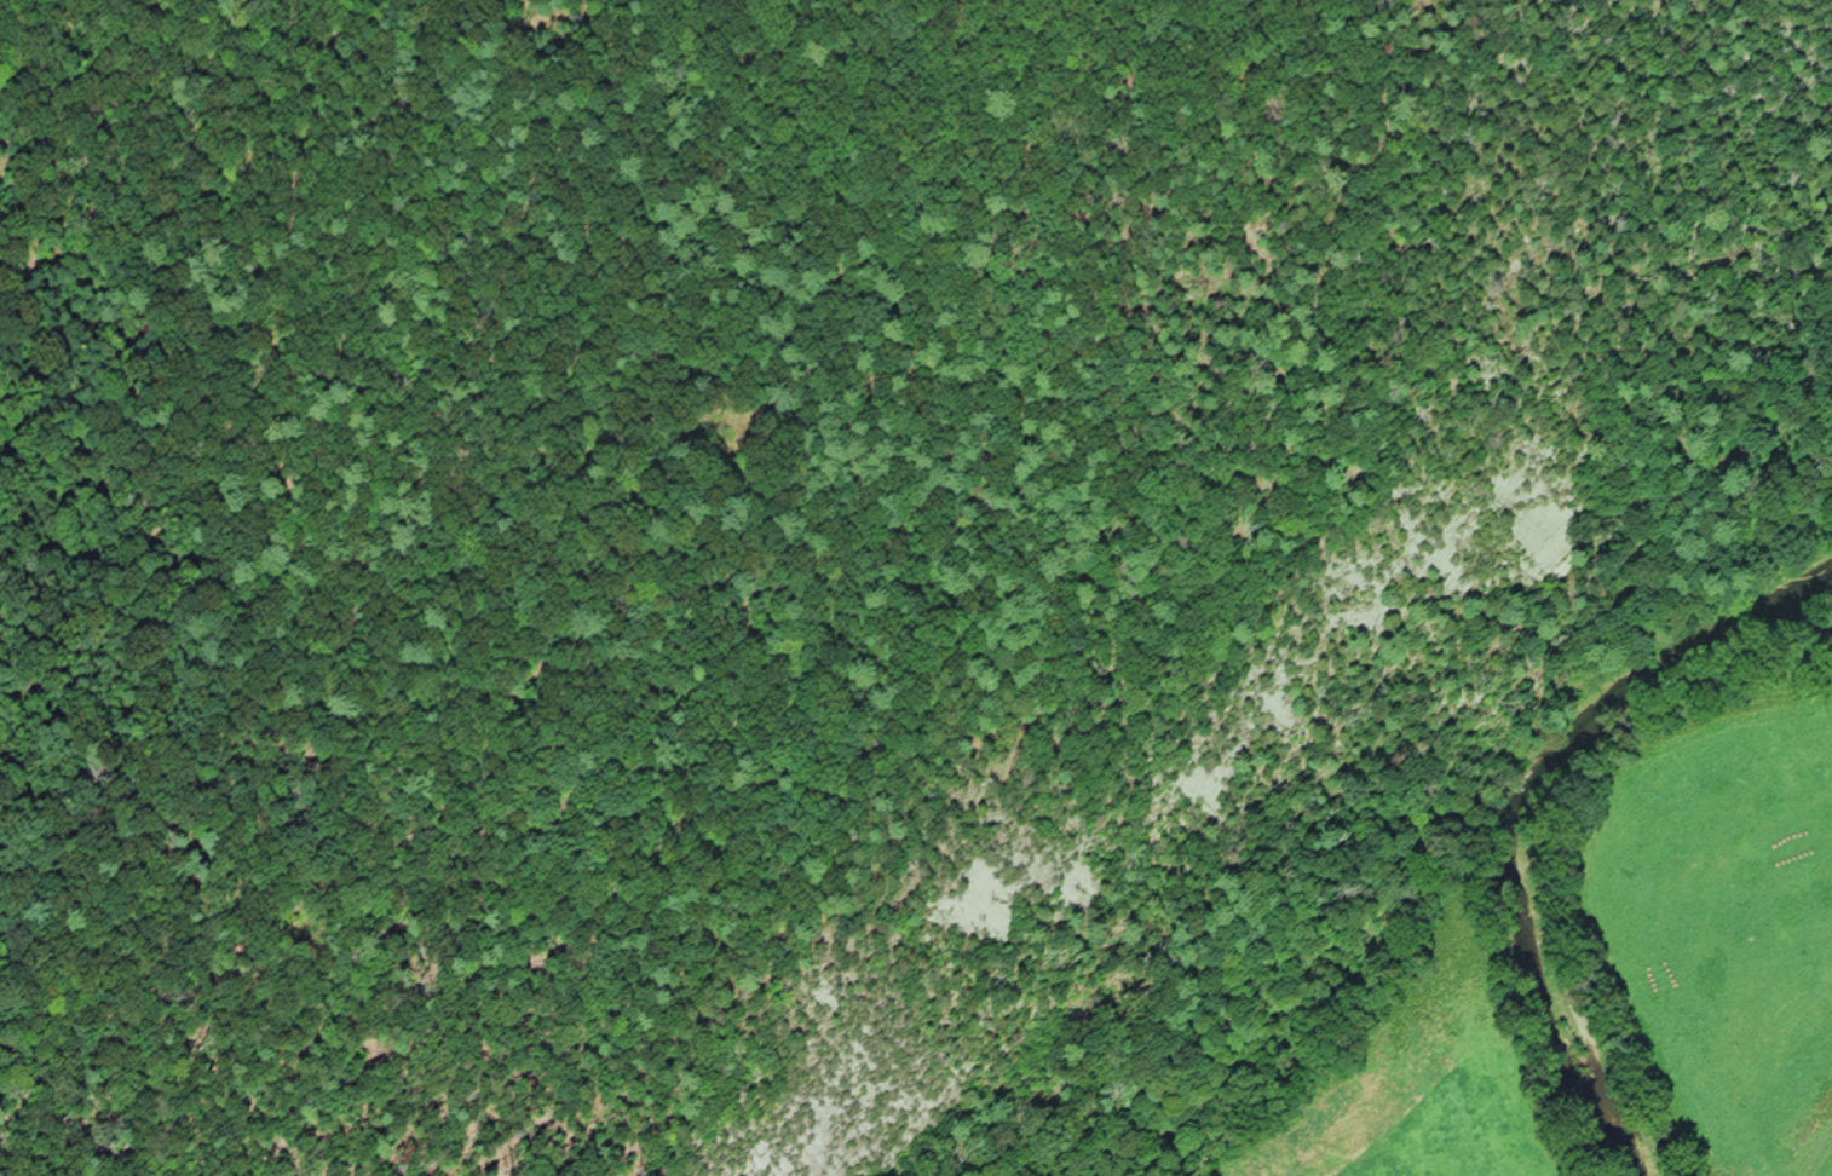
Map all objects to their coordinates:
river: (1542, 818)

